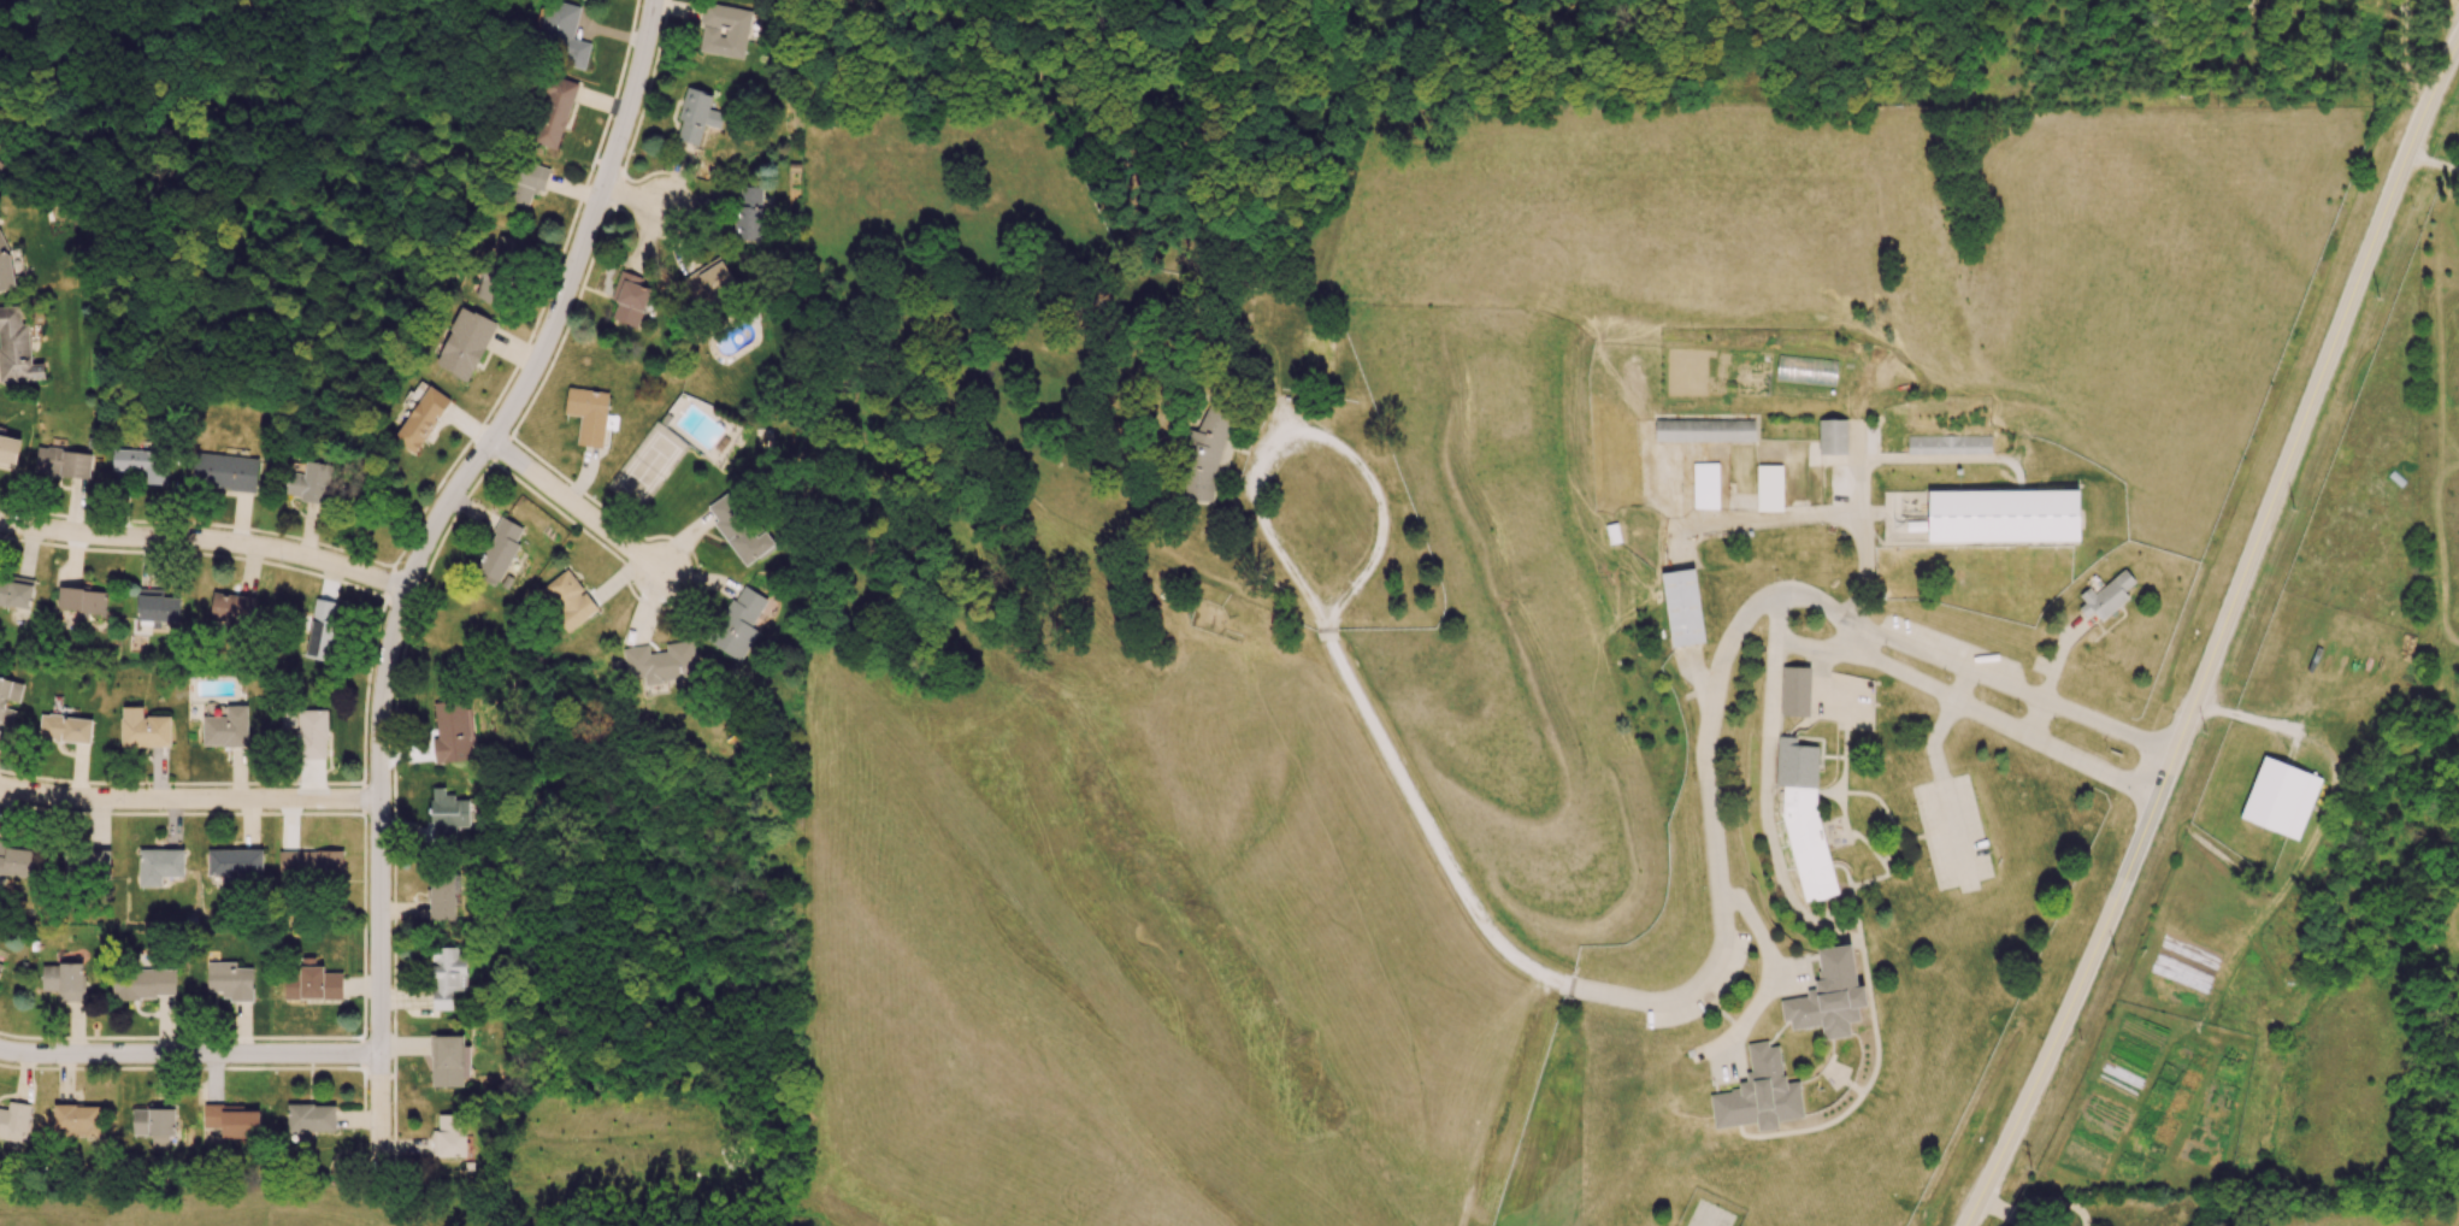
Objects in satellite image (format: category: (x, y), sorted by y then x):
building: (724, 29)
building: (561, 34)
building: (554, 112)
building: (696, 114)
building: (0, 159)
building: (526, 182)
road: (635, 196)
building: (749, 212)
building: (5, 265)
building: (500, 265)
building: (630, 297)
building: (464, 343)
building: (16, 348)
crop: (1716, 370)
building: (588, 414)
building: (421, 419)
building: (1706, 429)
building: (1835, 435)
building: (1950, 443)
building: (8, 450)
building: (1204, 455)
building: (63, 461)
building: (140, 465)
building: (225, 471)
building: (308, 482)
building: (1705, 484)
building: (1770, 487)
road: (576, 505)
building: (2004, 517)
building: (738, 530)
building: (1614, 531)
road: (206, 540)
building: (499, 552)
road: (417, 562)
building: (16, 591)
building: (2107, 595)
building: (81, 600)
building: (568, 600)
building: (157, 606)
building: (1682, 606)
building: (232, 608)
road: (1315, 611)
building: (738, 624)
building: (323, 630)
road: (2218, 636)
road: (1818, 643)
building: (662, 662)
road: (1818, 676)
road: (2011, 685)
building: (1797, 690)
building: (5, 706)
road: (1997, 715)
building: (226, 727)
building: (65, 729)
building: (143, 729)
building: (453, 732)
building: (312, 733)
road: (1936, 771)
road: (1764, 777)
building: (2281, 797)
road: (189, 798)
road: (1708, 806)
road: (182, 813)
building: (450, 815)
building: (1804, 820)
building: (14, 860)
building: (87, 862)
building: (236, 863)
building: (311, 863)
building: (159, 866)
building: (443, 895)
building: (0, 965)
road: (1767, 968)
building: (447, 977)
building: (64, 980)
building: (230, 980)
building: (312, 983)
building: (143, 984)
building: (1828, 996)
road: (291, 1037)
road: (189, 1053)
building: (448, 1061)
building: (1758, 1094)
building: (311, 1118)
building: (76, 1120)
building: (232, 1120)
building: (13, 1121)
building: (154, 1122)
building: (453, 1136)
building: (2050, 1222)

